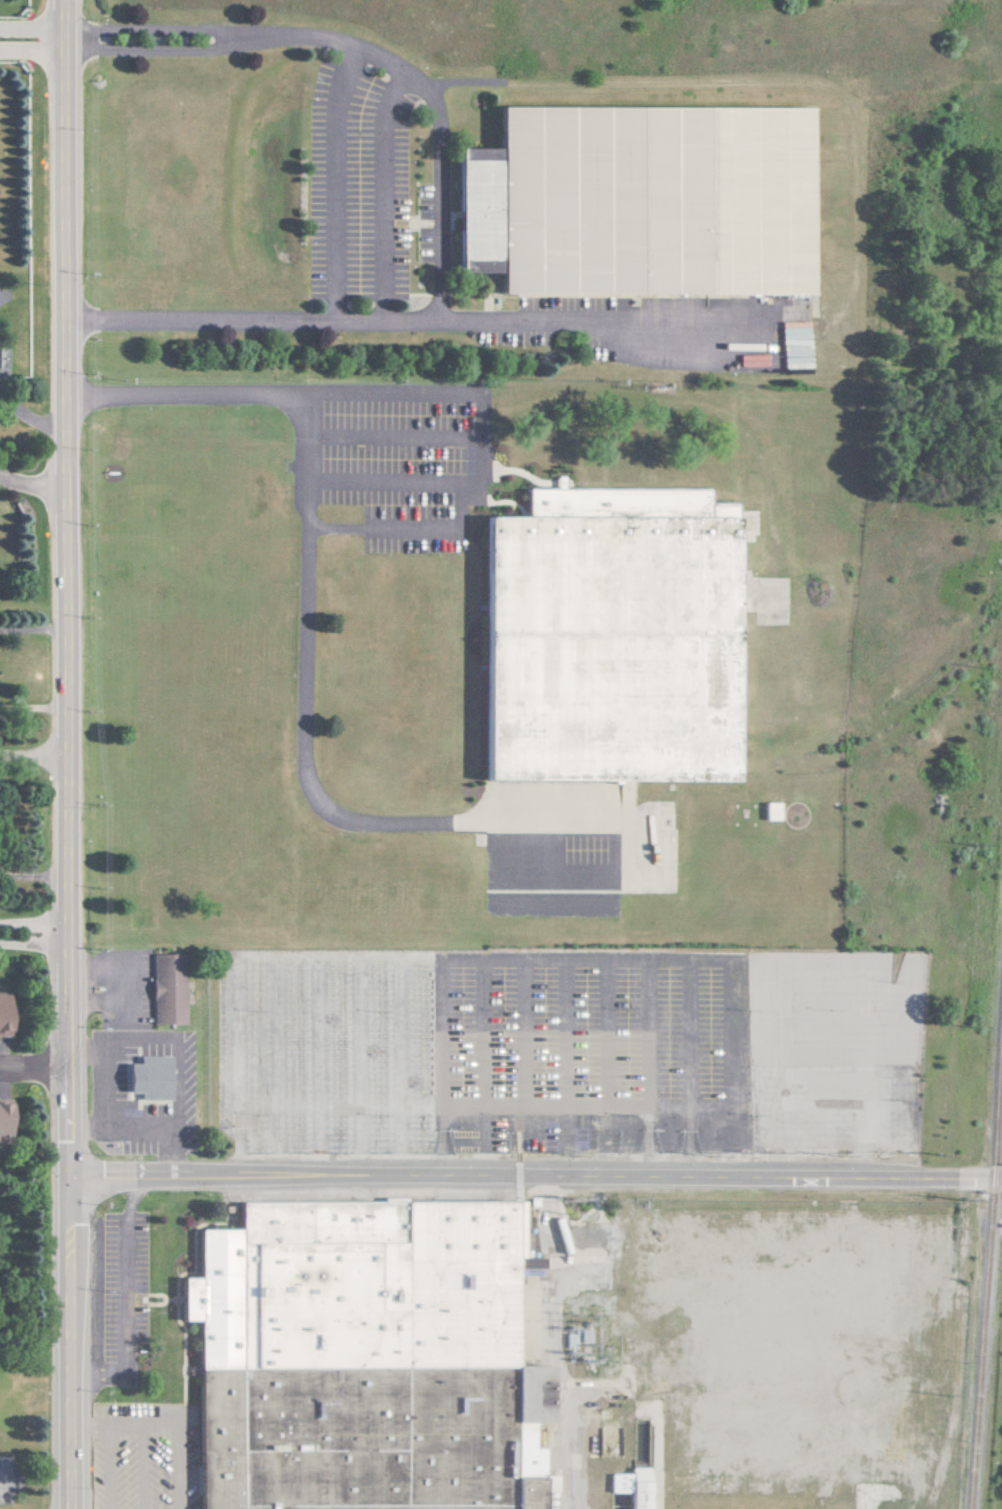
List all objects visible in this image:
road: (222, 35)
road: (81, 44)
road: (33, 47)
building: (491, 220)
building: (774, 252)
road: (444, 273)
building: (3, 356)
road: (486, 453)
road: (34, 486)
building: (691, 532)
building: (532, 554)
road: (68, 587)
road: (33, 629)
road: (310, 629)
road: (34, 759)
road: (33, 936)
road: (120, 985)
building: (166, 988)
building: (3, 1014)
road: (35, 1065)
building: (146, 1078)
building: (3, 1120)
road: (536, 1176)
road: (130, 1195)
railway: (984, 1255)
road: (122, 1321)
road: (72, 1341)
road: (550, 1343)
building: (366, 1353)
road: (123, 1425)
road: (140, 1466)
road: (107, 1467)
road: (173, 1467)
building: (630, 1486)

